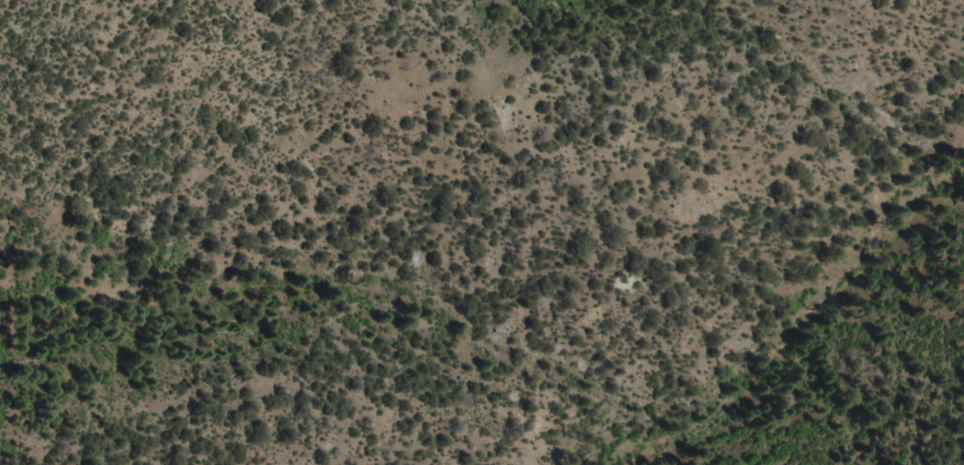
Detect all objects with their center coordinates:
road: (804, 329)

